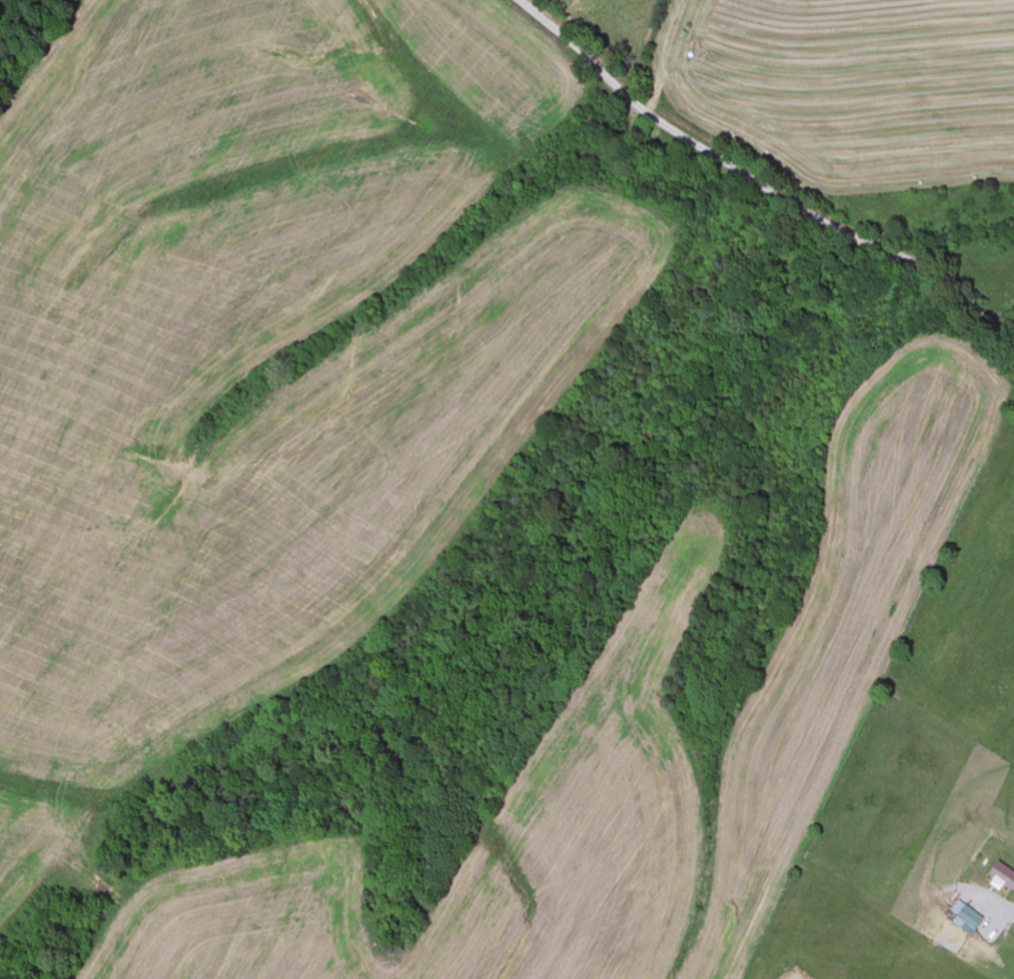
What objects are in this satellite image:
road: (760, 183)
building: (1002, 877)
building: (965, 919)

